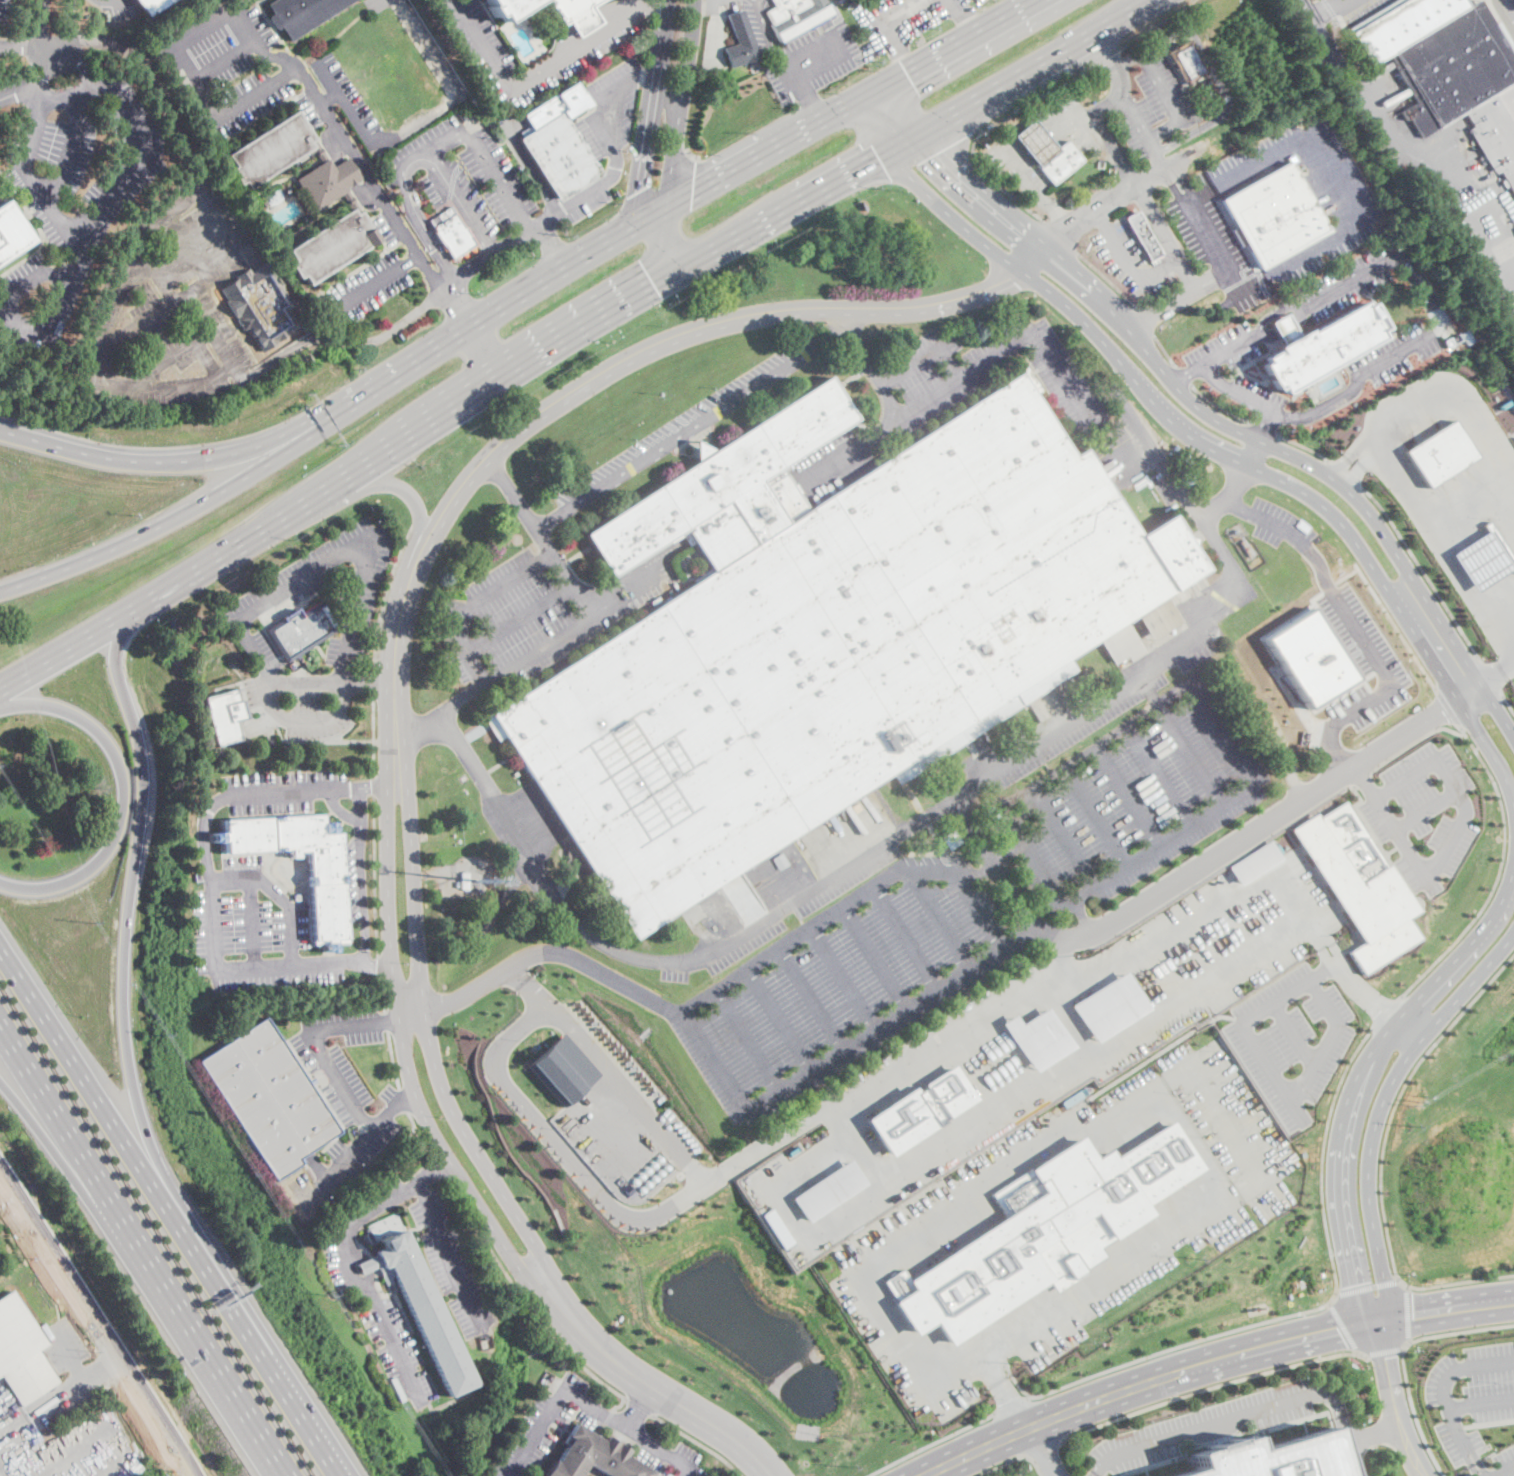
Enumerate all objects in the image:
road: (110, 0)
building: (881, 0)
parking lot: (1502, 1)
road: (1029, 2)
road: (1512, 2)
road: (859, 4)
road: (957, 4)
building: (151, 5)
building: (508, 7)
road: (645, 7)
road: (1340, 7)
parking lot: (1355, 7)
parking lot: (7, 9)
road: (897, 9)
parking lot: (117, 10)
building: (1325, 11)
building: (577, 13)
road: (1324, 13)
building: (302, 14)
building: (798, 16)
road: (1127, 18)
parking lot: (901, 19)
road: (968, 22)
road: (587, 24)
road: (1158, 25)
road: (42, 29)
road: (69, 29)
road: (770, 36)
road: (892, 37)
building: (739, 40)
road: (27, 48)
parking lot: (581, 49)
parking lot: (805, 52)
road: (272, 56)
road: (1107, 57)
road: (815, 58)
road: (225, 60)
road: (932, 63)
building: (1187, 63)
road: (74, 65)
parking lot: (238, 69)
building: (1449, 69)
road: (44, 70)
road: (648, 70)
road: (532, 76)
traffic signals: (909, 77)
road: (150, 82)
road: (1219, 82)
road: (1001, 89)
road: (202, 93)
road: (808, 94)
building: (1210, 95)
parking lot: (345, 96)
parking lot: (1163, 97)
road: (1029, 103)
road: (1370, 105)
road: (649, 108)
road: (681, 108)
road: (924, 109)
road: (429, 113)
road: (1178, 114)
road: (889, 119)
building: (1298, 121)
parking lot: (606, 134)
road: (140, 136)
parking lot: (1135, 137)
road: (861, 138)
building: (1035, 142)
gas station: (1035, 142)
building: (559, 143)
road: (1005, 143)
road: (74, 144)
road: (481, 149)
road: (613, 149)
traffic signals: (937, 151)
road: (1157, 156)
traffic signals: (881, 157)
parking lot: (1255, 158)
road: (410, 159)
road: (531, 162)
road: (1123, 162)
building: (1060, 163)
road: (738, 166)
road: (932, 167)
road: (347, 170)
road: (364, 171)
parking lot: (461, 172)
road: (29, 175)
road: (658, 184)
road: (1001, 187)
parking lot: (70, 189)
road: (977, 189)
traffic signals: (639, 190)
traffic signals: (693, 192)
building: (307, 193)
road: (1120, 197)
building: (266, 203)
road: (792, 206)
parking lot: (1197, 215)
building: (1275, 215)
road: (688, 219)
road: (222, 225)
parking lot: (391, 226)
building: (11, 232)
building: (452, 232)
building: (1143, 237)
road: (1061, 238)
road: (667, 241)
road: (192, 243)
road: (553, 245)
road: (504, 246)
road: (643, 252)
road: (1490, 256)
road: (1007, 259)
parking lot: (1129, 261)
road: (424, 264)
road: (1129, 264)
road: (156, 270)
road: (375, 281)
road: (1109, 281)
road: (1087, 282)
traffic signals: (655, 285)
parking lot: (367, 288)
road: (1243, 291)
road: (1182, 302)
road: (459, 303)
parking lot: (172, 306)
building: (262, 306)
road: (165, 308)
road: (1436, 313)
road: (485, 314)
road: (844, 318)
road: (1146, 322)
road: (43, 324)
road: (1288, 331)
road: (678, 335)
road: (217, 336)
road: (94, 341)
road: (350, 341)
building: (1319, 344)
road: (1165, 352)
road: (164, 359)
road: (910, 365)
road: (964, 370)
road: (474, 371)
road: (1185, 373)
road: (1183, 376)
parking lot: (977, 379)
road: (1457, 404)
building: (1502, 404)
road: (1220, 408)
parking lot: (689, 422)
road: (1176, 425)
road: (1263, 425)
road: (688, 429)
road: (1266, 430)
road: (848, 445)
building: (697, 447)
road: (1305, 447)
road: (1249, 451)
building: (1439, 452)
parking lot: (831, 463)
road: (1357, 463)
road: (161, 464)
road: (1163, 469)
road: (1348, 475)
road: (340, 480)
road: (402, 487)
road: (511, 491)
road: (1353, 497)
road: (1470, 506)
road: (167, 520)
parking lot: (1279, 523)
building: (1246, 548)
road: (1439, 551)
building: (1484, 558)
road: (1424, 572)
parking lot: (283, 590)
road: (385, 595)
road: (1402, 611)
parking lot: (538, 612)
road: (517, 616)
road: (1354, 625)
building: (302, 629)
road: (1429, 630)
road: (351, 634)
building: (830, 636)
road: (1405, 640)
building: (1311, 655)
road: (500, 670)
road: (1497, 673)
road: (1491, 677)
road: (306, 681)
road: (369, 681)
road: (374, 682)
road: (395, 688)
parking lot: (304, 700)
road: (1509, 705)
road: (1448, 708)
road: (441, 709)
building: (225, 714)
road: (1452, 732)
road: (374, 735)
road: (1232, 744)
road: (1192, 753)
road: (1158, 775)
road: (1361, 778)
road: (1453, 785)
road: (374, 787)
road: (377, 787)
parking lot: (283, 789)
road: (1371, 794)
road: (1125, 796)
road: (124, 797)
road: (1424, 808)
road: (340, 809)
parking lot: (1423, 812)
road: (205, 816)
road: (1095, 816)
road: (1267, 818)
road: (972, 836)
road: (1400, 837)
building: (950, 839)
road: (1065, 839)
road: (873, 848)
building: (1254, 861)
building: (479, 869)
parking lot: (356, 873)
road: (1500, 873)
road: (1512, 875)
road: (375, 877)
building: (754, 877)
building: (325, 878)
road: (361, 878)
building: (464, 881)
building: (1359, 882)
building: (743, 883)
road: (280, 896)
building: (297, 897)
parking lot: (962, 908)
road: (975, 910)
road: (942, 920)
road: (252, 925)
parking lot: (256, 930)
road: (904, 939)
road: (126, 941)
road: (874, 959)
road: (379, 966)
road: (381, 966)
road: (292, 970)
road: (732, 980)
road: (841, 980)
road: (384, 995)
road: (810, 1000)
building: (1109, 1005)
road: (1386, 1011)
road: (386, 1021)
road: (404, 1021)
road: (779, 1021)
road: (1293, 1033)
building: (1038, 1037)
parking lot: (1292, 1037)
road: (749, 1040)
road: (432, 1050)
road: (842, 1050)
road: (406, 1058)
road: (393, 1060)
road: (327, 1064)
building: (560, 1068)
road: (893, 1069)
road: (1061, 1075)
road: (1273, 1078)
road: (1354, 1085)
road: (626, 1093)
parking lot: (342, 1097)
building: (269, 1098)
road: (1398, 1099)
road: (404, 1101)
road: (406, 1102)
building: (920, 1109)
road: (1381, 1109)
road: (1216, 1111)
road: (1106, 1112)
road: (419, 1133)
road: (78, 1144)
road: (1323, 1156)
road: (438, 1165)
road: (340, 1167)
road: (432, 1170)
road: (74, 1179)
building: (826, 1189)
road: (170, 1212)
building: (1045, 1230)
building: (370, 1235)
road: (445, 1251)
road: (51, 1265)
road: (353, 1273)
traffic signals: (1350, 1284)
road: (1455, 1284)
road: (1366, 1288)
parking lot: (461, 1289)
road: (524, 1300)
traffic signals: (1412, 1304)
building: (422, 1308)
road: (1408, 1313)
road: (99, 1318)
road: (1446, 1319)
road: (1344, 1328)
road: (1461, 1331)
traffic signals: (1342, 1337)
building: (22, 1352)
road: (1164, 1352)
road: (1382, 1352)
road: (1197, 1354)
traffic signals: (1387, 1356)
road: (112, 1362)
road: (1462, 1368)
road: (222, 1371)
road: (78, 1383)
road: (1001, 1387)
road: (1157, 1388)
road: (1212, 1388)
road: (654, 1389)
parking lot: (1472, 1393)
road: (1480, 1402)
road: (587, 1403)
road: (1397, 1404)
road: (1011, 1405)
road: (639, 1406)
road: (639, 1407)
road: (1412, 1409)
road: (1230, 1418)
parking lot: (534, 1423)
road: (151, 1424)
road: (1489, 1424)
parking lot: (1222, 1425)
road: (1374, 1433)
road: (697, 1443)
road: (1464, 1443)
road: (932, 1445)
road: (1040, 1446)
road: (1044, 1452)
building: (594, 1456)
building: (1272, 1457)
parking lot: (1503, 1457)
road: (1353, 1458)
road: (1014, 1460)
road: (1502, 1470)
road: (181, 1474)

